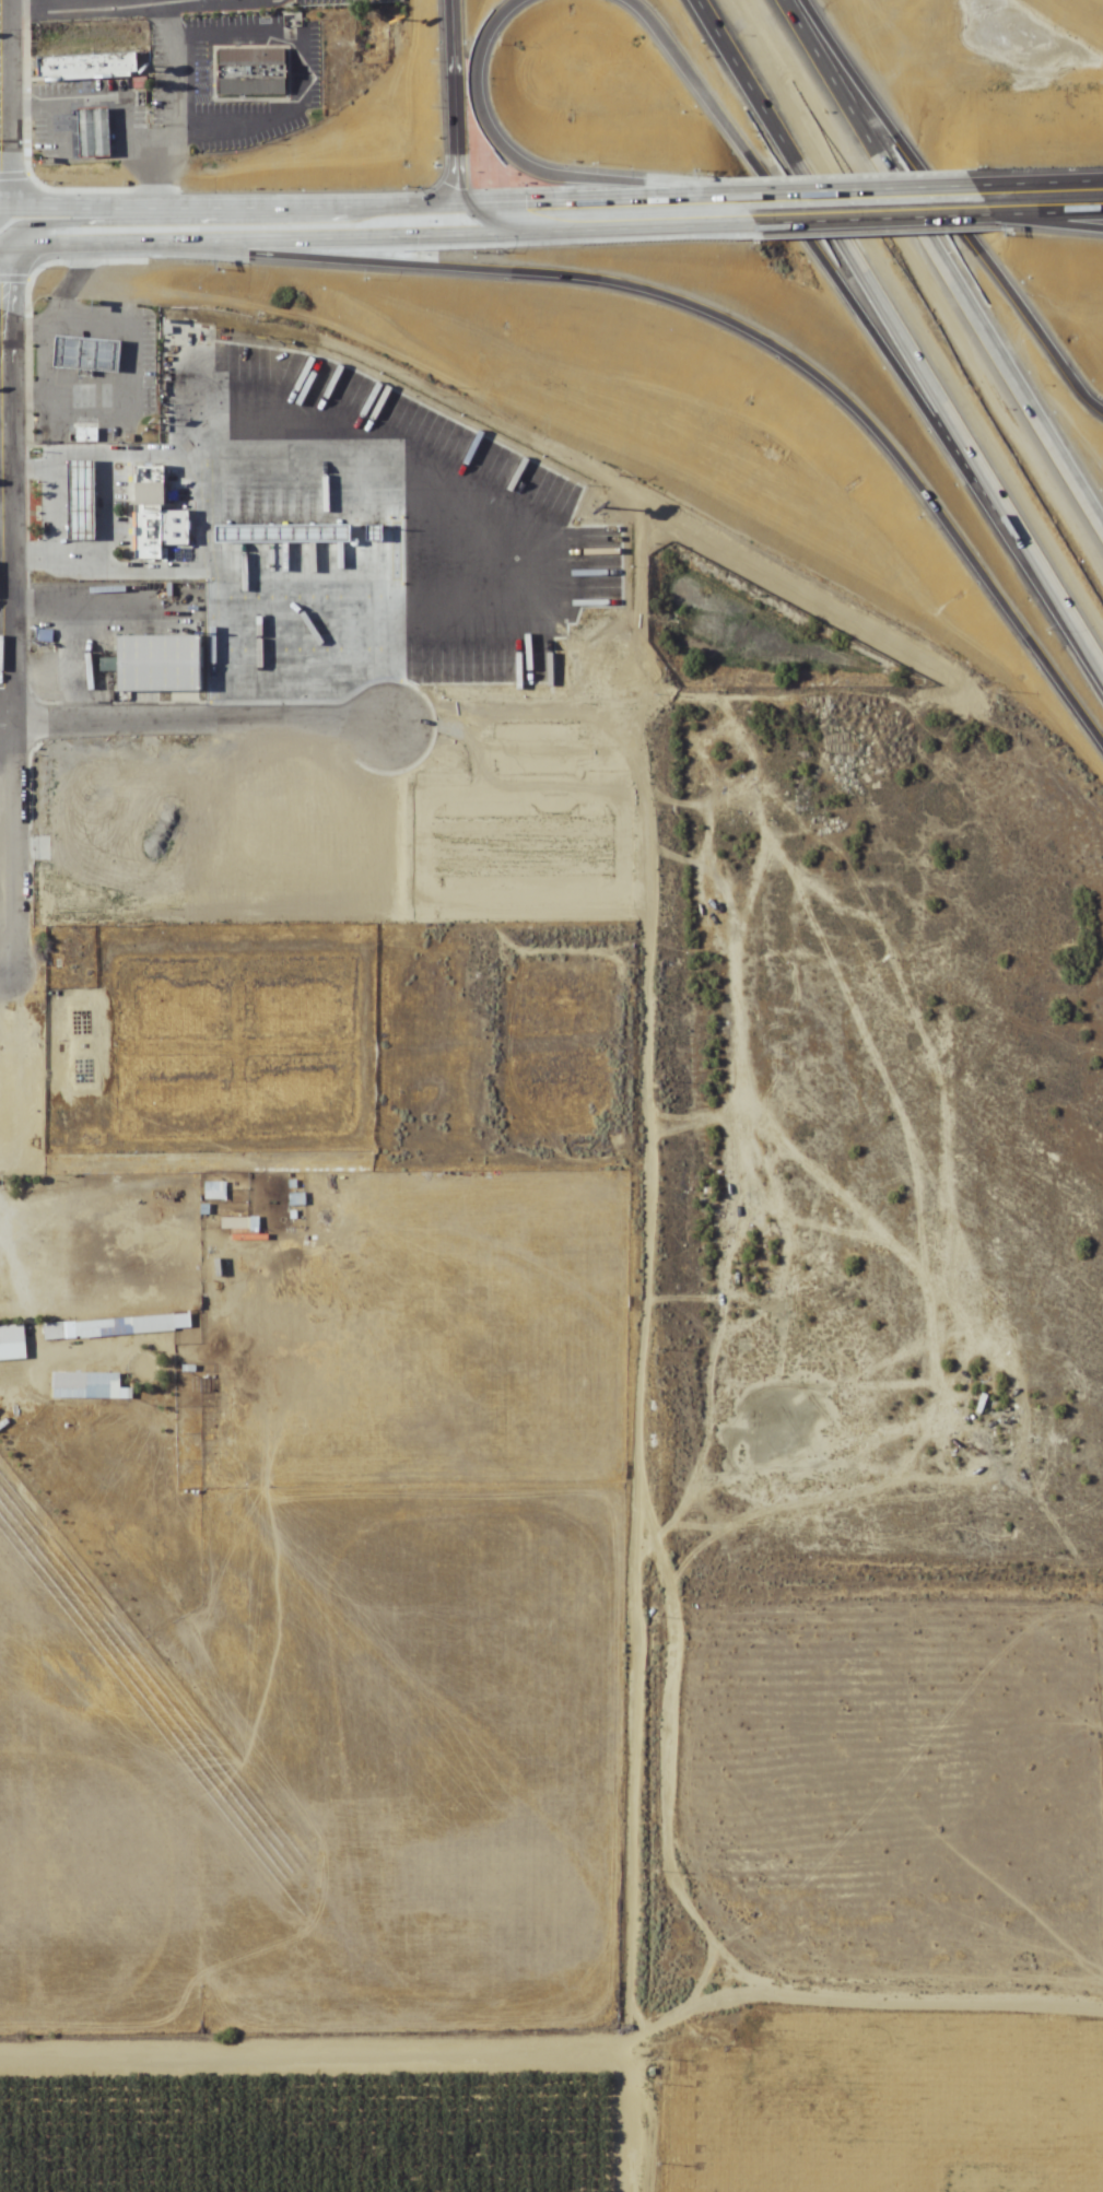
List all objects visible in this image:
road: (212, 1)
road: (247, 1)
road: (190, 2)
road: (1, 48)
building: (85, 67)
road: (305, 68)
building: (255, 74)
road: (173, 97)
road: (449, 122)
road: (54, 131)
building: (94, 132)
road: (526, 172)
road: (1035, 185)
road: (179, 190)
road: (129, 191)
road: (849, 191)
road: (597, 210)
road: (1054, 216)
traffic signals: (462, 224)
road: (881, 224)
road: (231, 236)
road: (807, 241)
road: (470, 242)
traffic signals: (465, 243)
road: (949, 255)
road: (92, 258)
road: (223, 261)
road: (70, 280)
road: (2, 320)
road: (906, 325)
road: (20, 329)
road: (85, 331)
road: (771, 349)
street lamp: (35, 350)
building: (94, 352)
gas station: (94, 352)
road: (70, 353)
road: (61, 367)
road: (114, 367)
road: (121, 367)
road: (31, 373)
road: (137, 374)
street lamp: (35, 383)
road: (21, 403)
road: (86, 403)
road: (3, 429)
street lamp: (108, 432)
street lamp: (75, 433)
building: (92, 437)
building: (134, 439)
road: (83, 466)
building: (97, 466)
road: (50, 472)
road: (25, 473)
road: (83, 476)
building: (154, 483)
road: (8, 484)
road: (83, 485)
building: (228, 487)
road: (84, 494)
building: (86, 499)
gas station: (86, 499)
road: (84, 504)
road: (109, 506)
road: (59, 508)
road: (4, 513)
road: (84, 514)
road: (84, 524)
road: (196, 525)
building: (152, 530)
road: (84, 534)
road: (78, 559)
road: (26, 560)
road: (110, 566)
building: (156, 665)
building: (50, 675)
road: (7, 728)
road: (204, 728)
building: (586, 912)
building: (69, 949)
building: (122, 1326)
building: (54, 1332)
building: (12, 1336)
building: (87, 1387)
road: (611, 1487)
crop: (606, 1527)
road: (855, 2070)
road: (304, 2073)
crop: (308, 2127)

